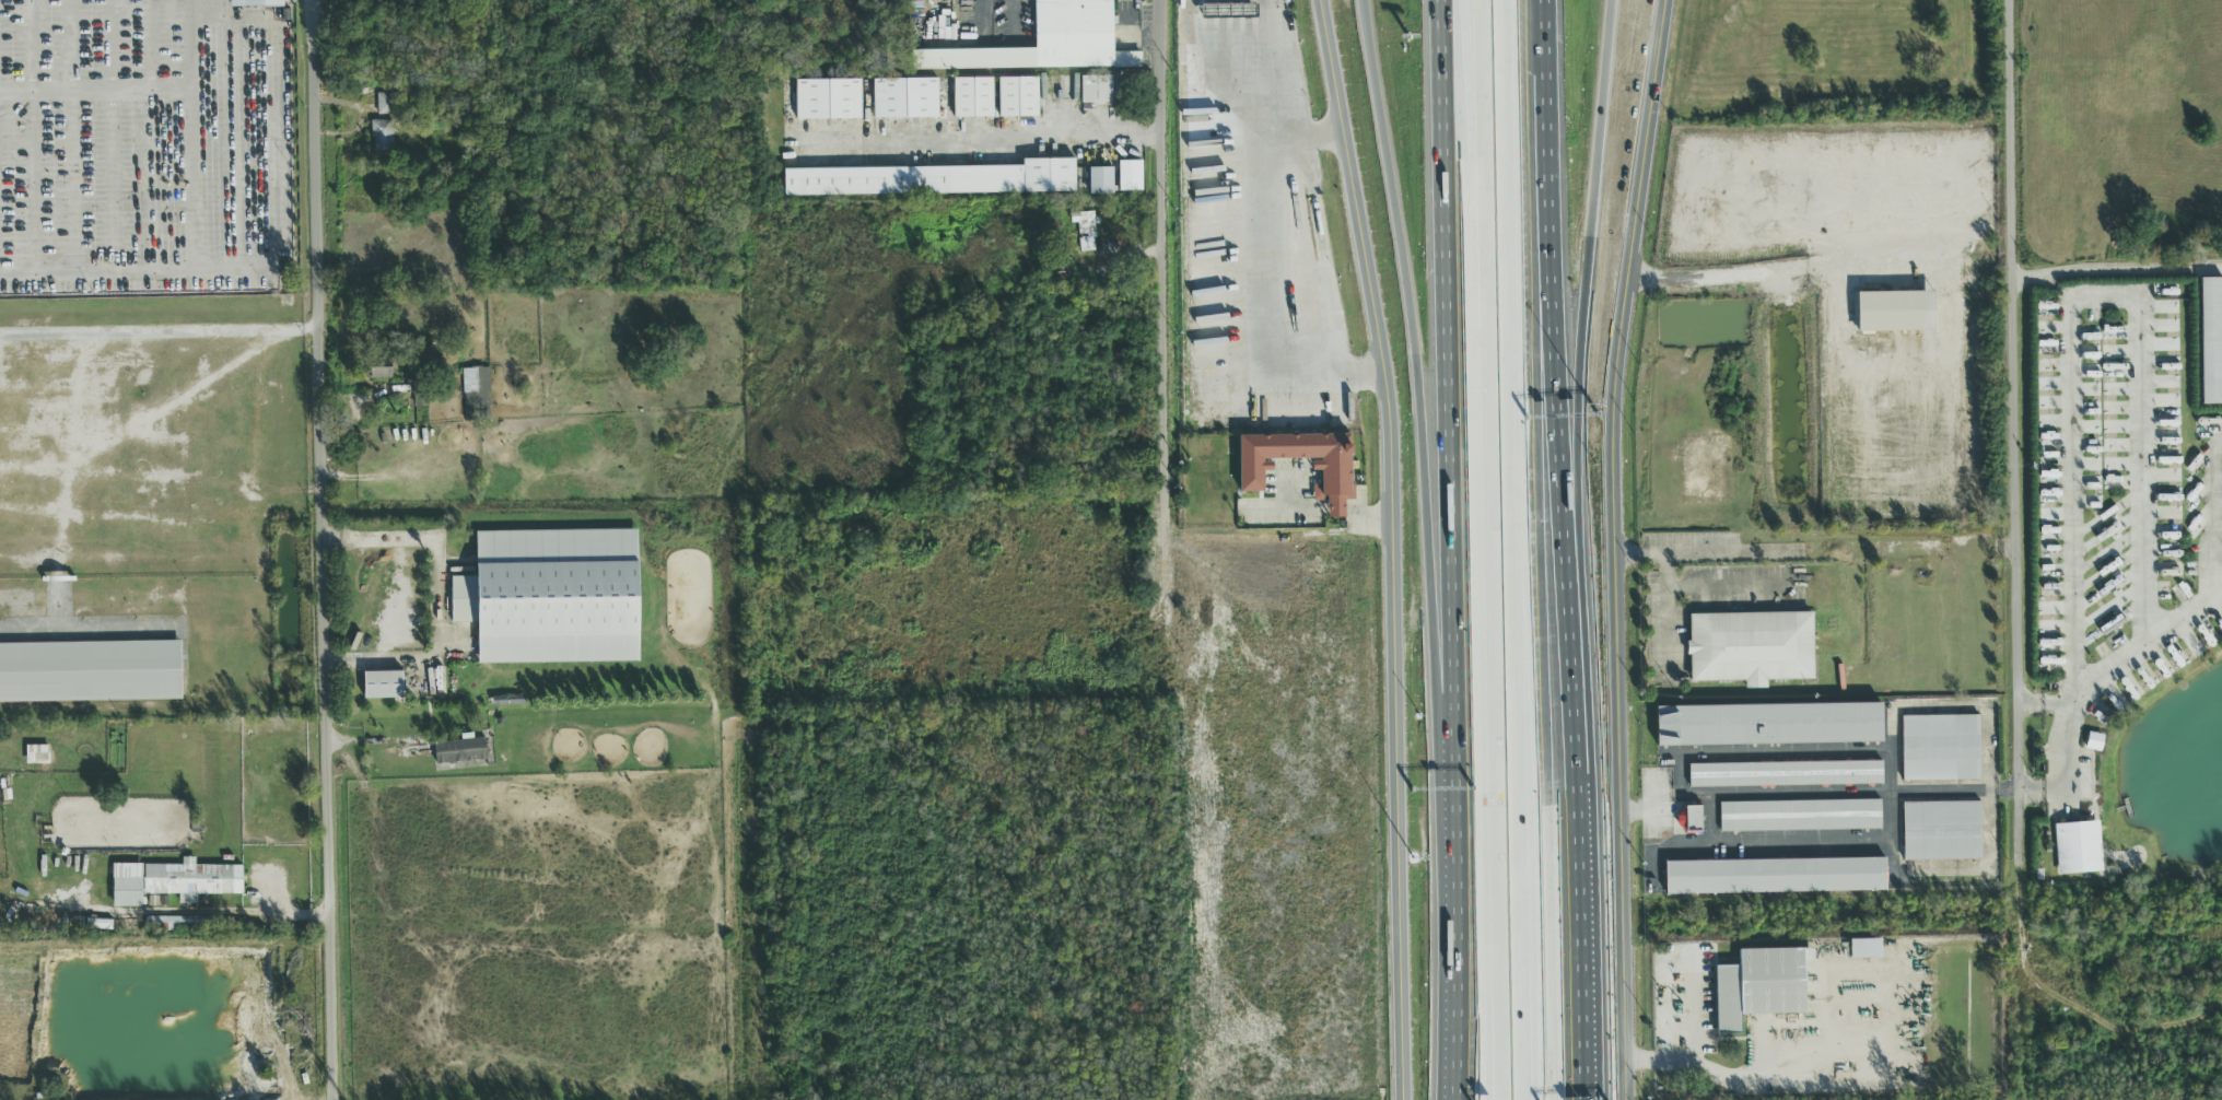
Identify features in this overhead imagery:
building: (256, 3)
building: (1226, 10)
building: (1046, 43)
road: (1466, 62)
building: (1098, 90)
building: (1017, 97)
building: (972, 98)
building: (904, 100)
building: (828, 101)
building: (387, 104)
road: (1243, 106)
building: (383, 136)
road: (992, 138)
building: (1130, 176)
building: (934, 180)
building: (1100, 182)
road: (1317, 208)
building: (1085, 231)
road: (1554, 231)
road: (1591, 232)
road: (270, 234)
road: (2116, 270)
road: (1766, 271)
road: (1255, 289)
road: (2082, 301)
building: (1895, 312)
road: (160, 332)
building: (2211, 341)
building: (378, 368)
building: (477, 396)
road: (1422, 432)
road: (1449, 433)
road: (2013, 461)
building: (1335, 478)
road: (1287, 510)
road: (1335, 510)
road: (1369, 512)
road: (2213, 519)
road: (1394, 547)
road: (1614, 548)
road: (325, 549)
road: (1169, 549)
road: (1509, 549)
road: (1539, 549)
road: (1483, 550)
road: (1707, 553)
building: (555, 598)
park: (555, 598)
road: (443, 602)
road: (1668, 619)
building: (1752, 647)
building: (91, 676)
road: (2091, 684)
building: (383, 686)
road: (2040, 703)
building: (1770, 724)
building: (1941, 748)
building: (459, 751)
building: (37, 756)
building: (1786, 773)
road: (1572, 780)
building: (1800, 815)
building: (1689, 819)
building: (1942, 831)
road: (1883, 843)
building: (2078, 849)
building: (1777, 876)
building: (173, 882)
road: (1531, 925)
building: (1864, 949)
road: (1452, 984)
building: (1762, 985)
road: (1694, 1008)
road: (1494, 1055)
road: (1726, 1075)

